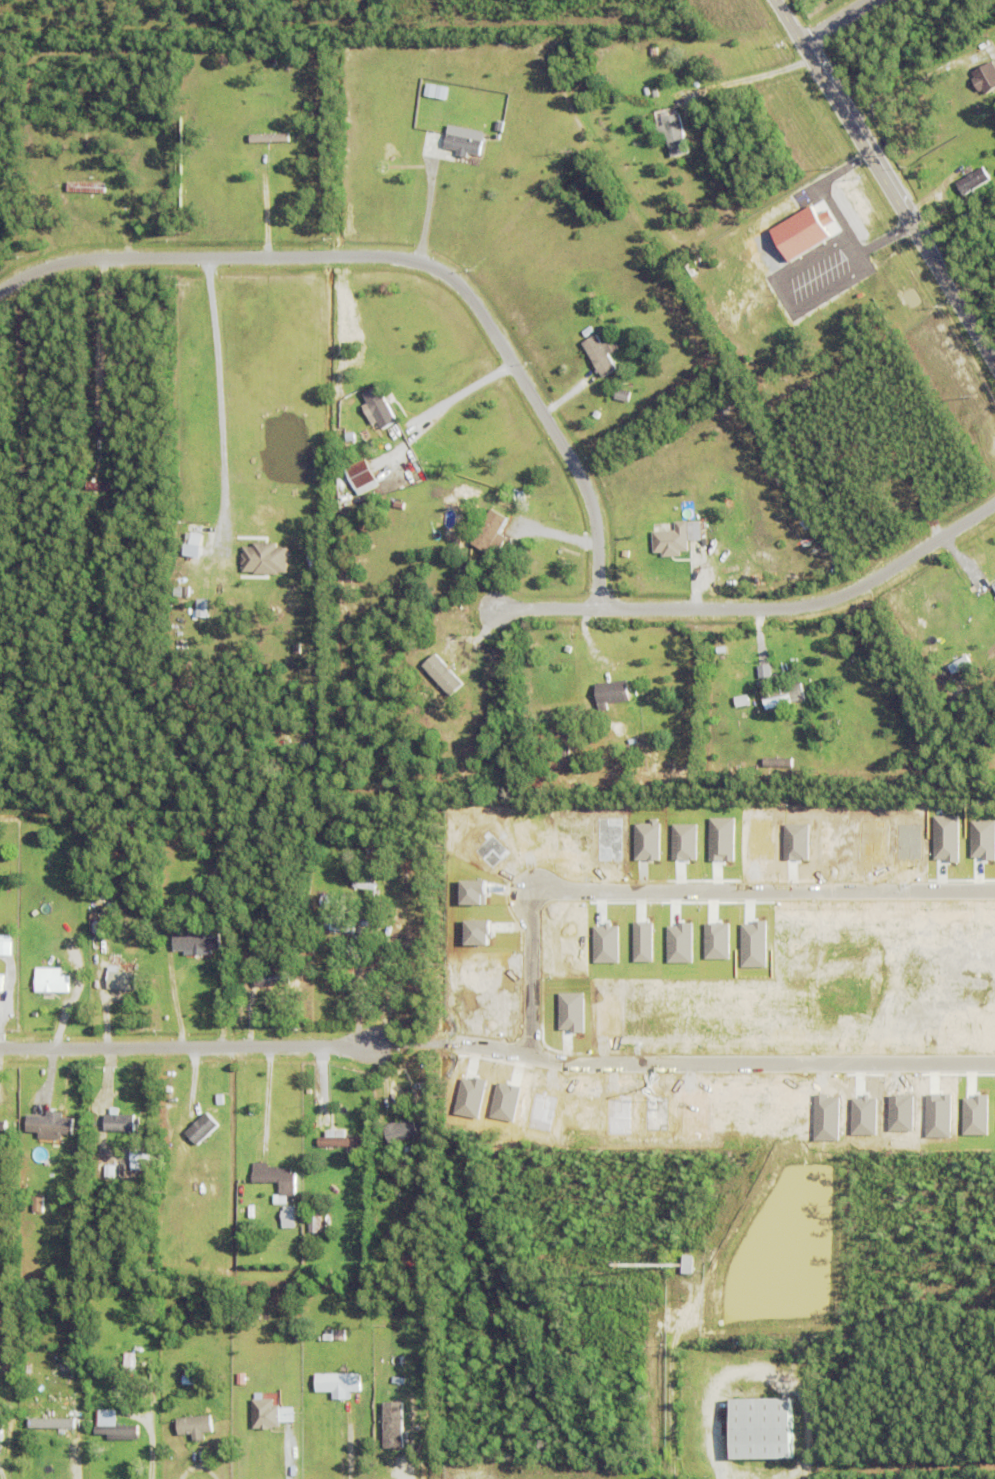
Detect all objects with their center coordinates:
road: (837, 22)
building: (985, 77)
road: (747, 78)
building: (434, 90)
road: (908, 90)
building: (499, 125)
building: (674, 134)
building: (269, 137)
building: (463, 142)
building: (972, 179)
road: (885, 181)
building: (86, 187)
road: (266, 209)
road: (427, 213)
building: (966, 216)
building: (802, 231)
road: (412, 264)
building: (588, 331)
building: (600, 354)
road: (107, 360)
road: (220, 391)
building: (621, 394)
road: (465, 395)
building: (380, 407)
building: (398, 433)
building: (351, 437)
building: (360, 474)
building: (104, 486)
building: (521, 497)
building: (523, 522)
building: (198, 528)
building: (490, 532)
building: (268, 534)
building: (671, 541)
building: (263, 558)
building: (313, 558)
building: (994, 587)
building: (201, 608)
road: (753, 616)
building: (441, 674)
building: (766, 684)
building: (613, 693)
building: (784, 696)
building: (574, 699)
building: (742, 701)
building: (777, 762)
building: (718, 766)
building: (313, 852)
building: (364, 881)
road: (686, 892)
building: (338, 924)
building: (374, 926)
building: (98, 928)
building: (776, 929)
building: (196, 938)
building: (5, 945)
building: (422, 970)
building: (120, 980)
building: (771, 980)
building: (51, 981)
building: (1, 983)
building: (273, 984)
road: (359, 998)
road: (195, 1046)
road: (725, 1062)
building: (424, 1081)
road: (268, 1097)
building: (1, 1123)
building: (119, 1124)
building: (50, 1126)
building: (199, 1128)
building: (399, 1132)
building: (339, 1141)
building: (2, 1144)
building: (332, 1156)
building: (140, 1160)
building: (274, 1179)
building: (37, 1205)
building: (288, 1218)
building: (314, 1225)
building: (687, 1266)
building: (328, 1336)
building: (783, 1336)
building: (808, 1353)
building: (749, 1354)
building: (129, 1364)
building: (114, 1368)
building: (189, 1379)
building: (241, 1380)
building: (338, 1385)
building: (765, 1391)
building: (53, 1404)
building: (811, 1405)
building: (348, 1413)
building: (265, 1416)
building: (50, 1422)
building: (391, 1424)
building: (52, 1425)
building: (112, 1429)
building: (194, 1430)
building: (1, 1433)
building: (761, 1435)
building: (192, 1447)
road: (284, 1457)
building: (41, 1459)
road: (85, 1459)
building: (696, 1467)
building: (41, 1470)

